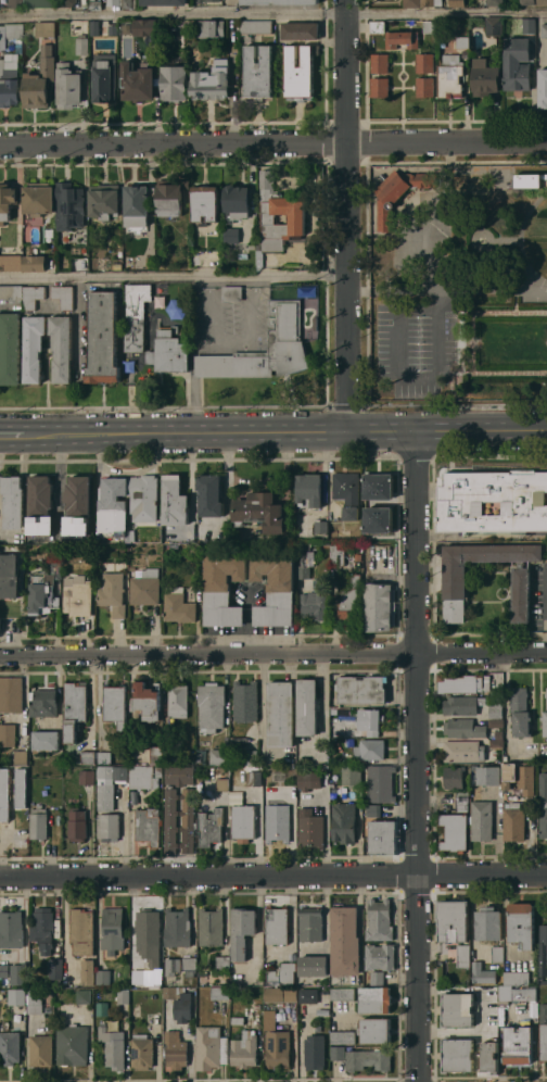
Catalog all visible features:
building: (212, 0)
building: (281, 1)
building: (66, 2)
building: (164, 2)
building: (431, 2)
building: (494, 2)
building: (527, 2)
building: (542, 2)
building: (14, 3)
building: (39, 3)
building: (123, 3)
building: (411, 3)
building: (456, 3)
building: (96, 4)
road: (272, 12)
building: (255, 26)
building: (378, 26)
building: (429, 26)
building: (494, 26)
building: (529, 26)
building: (94, 27)
building: (144, 27)
building: (44, 28)
building: (211, 28)
building: (113, 29)
building: (544, 29)
building: (13, 30)
building: (301, 30)
building: (1, 36)
building: (402, 39)
building: (462, 41)
building: (81, 46)
building: (380, 63)
building: (424, 63)
building: (517, 64)
building: (258, 72)
building: (300, 72)
building: (450, 76)
building: (485, 77)
building: (104, 78)
building: (9, 79)
building: (40, 80)
building: (212, 80)
building: (138, 83)
building: (174, 83)
building: (68, 86)
building: (424, 86)
building: (380, 87)
building: (543, 88)
road: (272, 146)
building: (527, 179)
building: (398, 192)
building: (170, 196)
building: (38, 198)
building: (7, 201)
building: (105, 201)
building: (237, 202)
building: (138, 203)
building: (205, 203)
building: (69, 205)
road: (344, 214)
building: (296, 221)
building: (230, 235)
road: (519, 240)
building: (480, 241)
road: (433, 247)
building: (11, 262)
building: (35, 263)
building: (76, 266)
building: (117, 266)
road: (171, 277)
road: (445, 289)
building: (231, 292)
building: (12, 293)
building: (33, 295)
building: (63, 295)
building: (136, 315)
building: (284, 319)
building: (316, 323)
building: (102, 338)
road: (232, 341)
building: (34, 348)
building: (61, 348)
building: (10, 349)
building: (169, 352)
road: (406, 377)
road: (291, 429)
road: (17, 435)
building: (379, 486)
building: (309, 490)
building: (347, 492)
building: (211, 494)
building: (14, 501)
building: (175, 501)
building: (493, 501)
building: (41, 505)
building: (79, 505)
building: (262, 512)
building: (115, 515)
building: (379, 519)
building: (321, 526)
building: (173, 549)
building: (336, 554)
building: (302, 557)
building: (357, 557)
building: (10, 576)
building: (455, 579)
building: (318, 584)
building: (275, 587)
building: (145, 588)
building: (222, 588)
building: (44, 590)
building: (113, 593)
building: (78, 596)
building: (348, 600)
building: (314, 605)
building: (379, 606)
building: (178, 607)
road: (247, 619)
road: (273, 647)
building: (465, 682)
building: (362, 690)
building: (11, 694)
building: (546, 694)
building: (178, 700)
building: (147, 701)
building: (245, 701)
building: (43, 703)
building: (115, 705)
building: (462, 705)
building: (212, 706)
building: (307, 707)
building: (75, 708)
building: (496, 709)
building: (342, 712)
building: (520, 712)
building: (281, 714)
building: (370, 720)
building: (496, 722)
building: (545, 722)
building: (465, 728)
building: (8, 734)
building: (499, 734)
building: (44, 741)
building: (348, 742)
building: (496, 743)
road: (545, 747)
building: (370, 750)
building: (463, 751)
road: (417, 755)
building: (88, 756)
building: (219, 756)
building: (251, 756)
building: (21, 757)
building: (104, 757)
building: (505, 758)
building: (156, 759)
building: (275, 770)
building: (178, 775)
building: (213, 775)
building: (254, 775)
building: (352, 775)
building: (489, 775)
building: (87, 777)
building: (142, 777)
building: (454, 778)
building: (520, 778)
building: (309, 780)
building: (225, 783)
building: (380, 783)
building: (109, 784)
building: (21, 787)
building: (333, 790)
building: (266, 792)
building: (4, 794)
building: (462, 801)
building: (543, 805)
building: (373, 810)
building: (170, 820)
building: (188, 820)
building: (482, 820)
building: (39, 822)
building: (243, 822)
building: (278, 822)
building: (344, 822)
building: (514, 822)
building: (77, 825)
building: (109, 826)
building: (148, 826)
building: (211, 827)
building: (309, 828)
building: (454, 832)
building: (383, 836)
road: (273, 875)
building: (379, 920)
building: (453, 920)
building: (488, 923)
building: (522, 923)
building: (277, 924)
building: (310, 924)
building: (212, 927)
building: (177, 928)
building: (11, 929)
building: (42, 929)
building: (113, 930)
building: (242, 930)
building: (81, 931)
building: (345, 942)
building: (149, 947)
building: (543, 951)
building: (497, 954)
building: (463, 956)
building: (380, 957)
building: (222, 961)
building: (190, 963)
building: (173, 966)
building: (314, 966)
building: (55, 968)
building: (88, 970)
building: (4, 971)
building: (190, 972)
building: (18, 973)
building: (283, 973)
building: (482, 973)
building: (105, 977)
building: (377, 978)
building: (505, 986)
building: (170, 992)
building: (220, 993)
building: (281, 994)
building: (342, 994)
building: (16, 996)
building: (82, 996)
building: (123, 996)
building: (308, 996)
building: (34, 997)
building: (376, 999)
building: (256, 1006)
building: (182, 1008)
building: (457, 1008)
building: (35, 1009)
building: (102, 1009)
building: (533, 1009)
building: (238, 1020)
building: (269, 1020)
building: (374, 1030)
building: (543, 1032)
building: (343, 1037)
building: (73, 1044)
building: (518, 1045)
building: (113, 1046)
building: (10, 1047)
building: (211, 1047)
building: (277, 1048)
building: (244, 1049)
building: (41, 1050)
building: (176, 1050)
building: (142, 1052)
building: (315, 1052)
building: (338, 1053)
building: (457, 1055)
building: (489, 1057)
building: (368, 1060)

